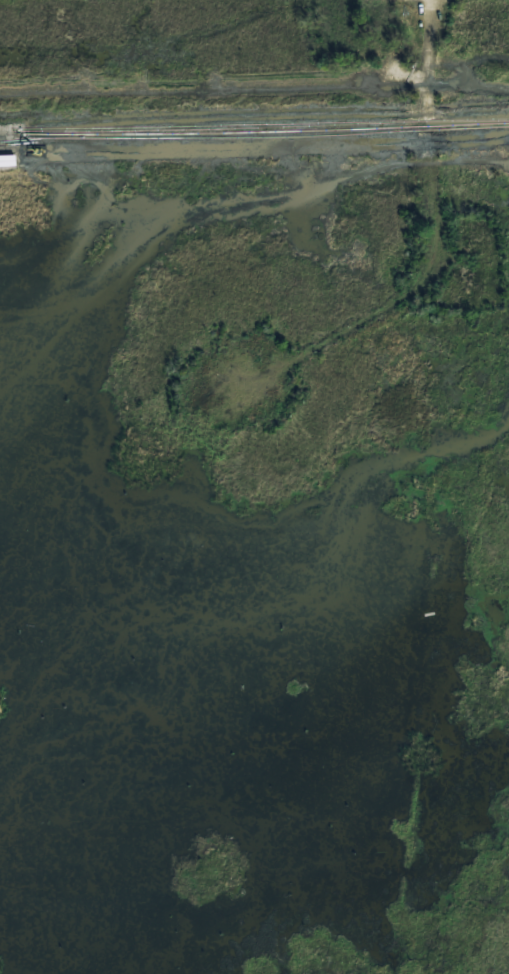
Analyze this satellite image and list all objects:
road: (437, 259)

